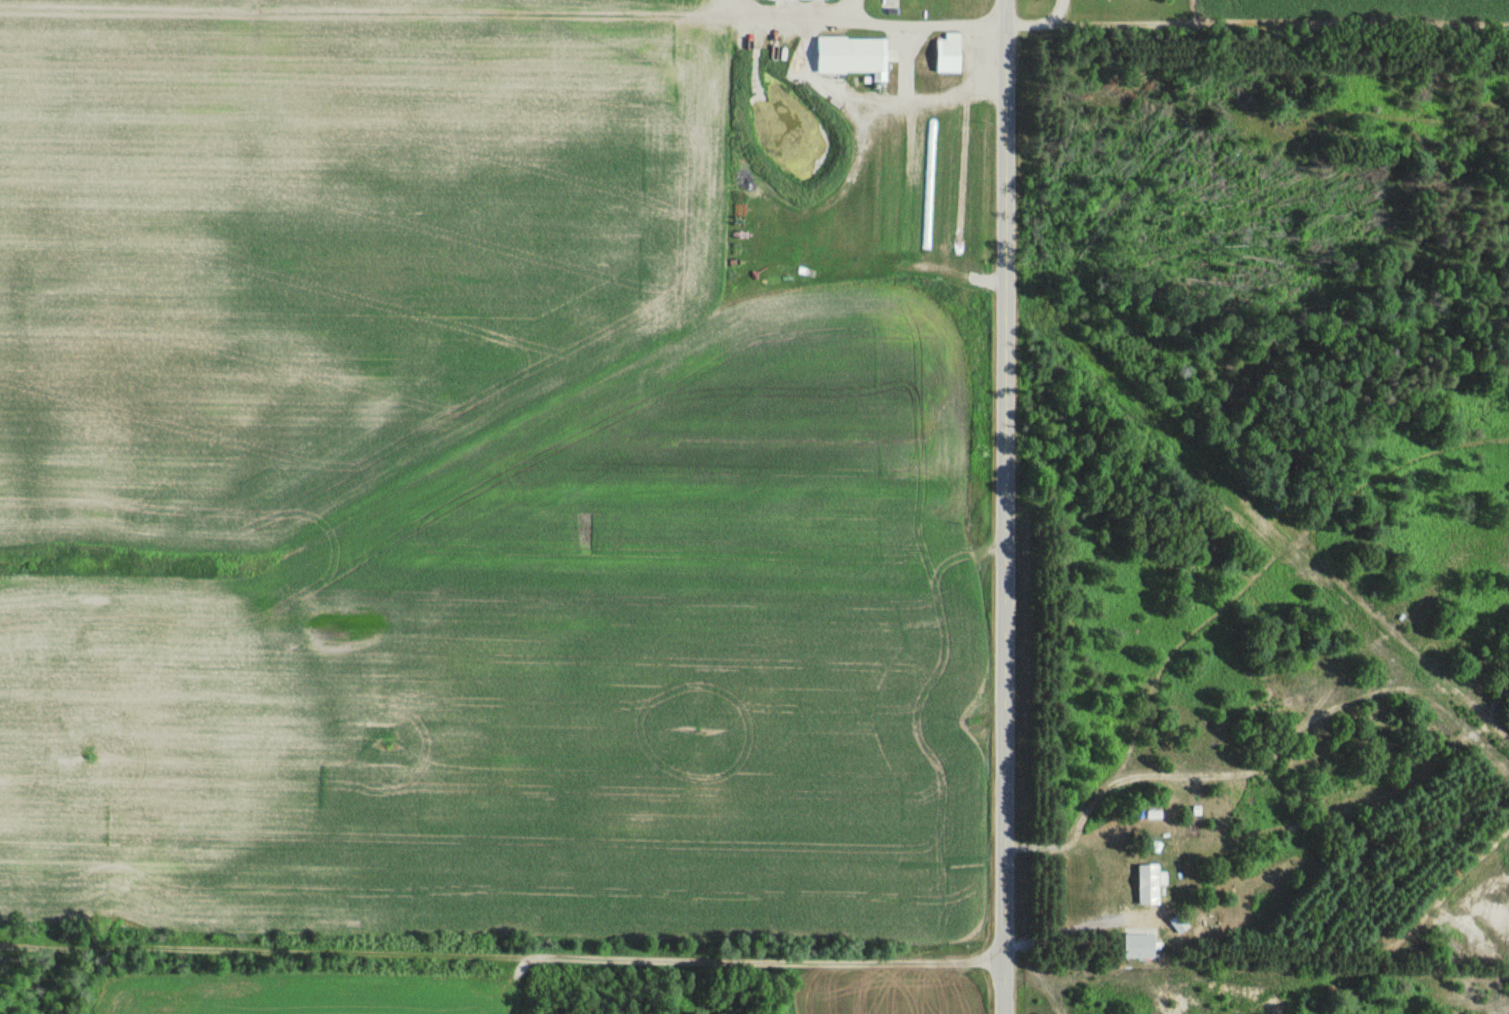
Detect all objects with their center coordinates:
building: (901, 54)
building: (864, 184)
building: (977, 193)
building: (840, 226)
road: (1006, 506)
building: (1140, 884)
road: (503, 951)

